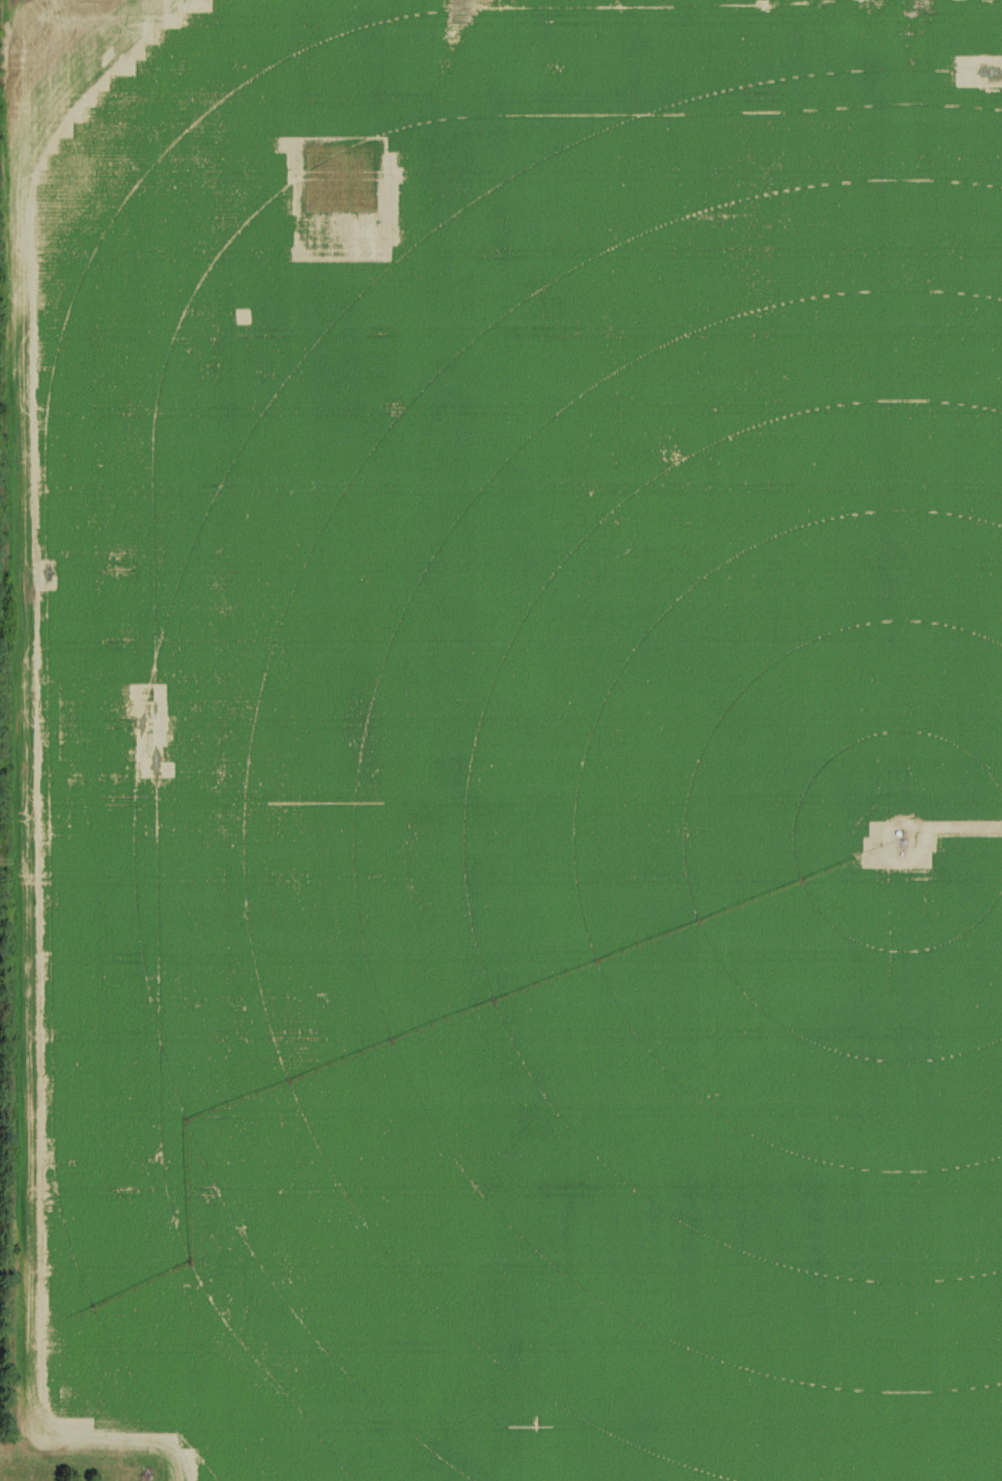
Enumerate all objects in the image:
crop: (515, 744)

